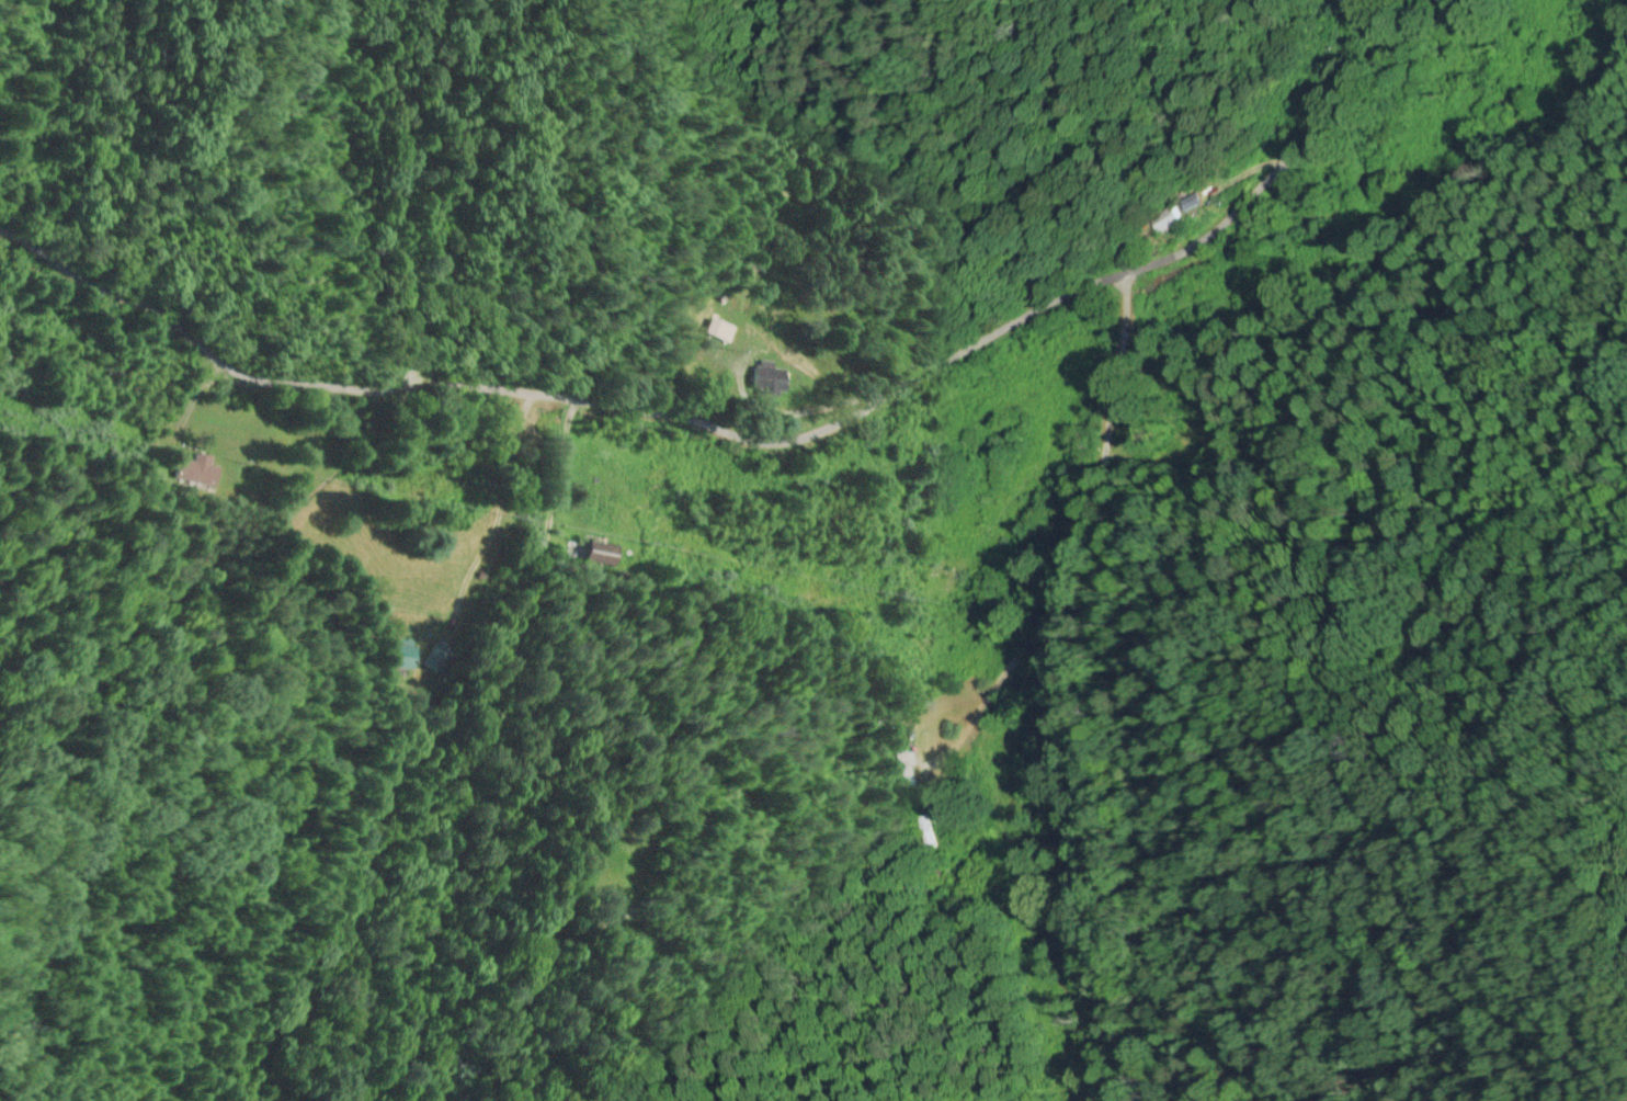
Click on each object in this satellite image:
building: (1163, 219)
building: (765, 379)
road: (756, 439)
building: (596, 555)
building: (434, 663)
road: (1055, 688)
building: (904, 769)
building: (925, 831)

